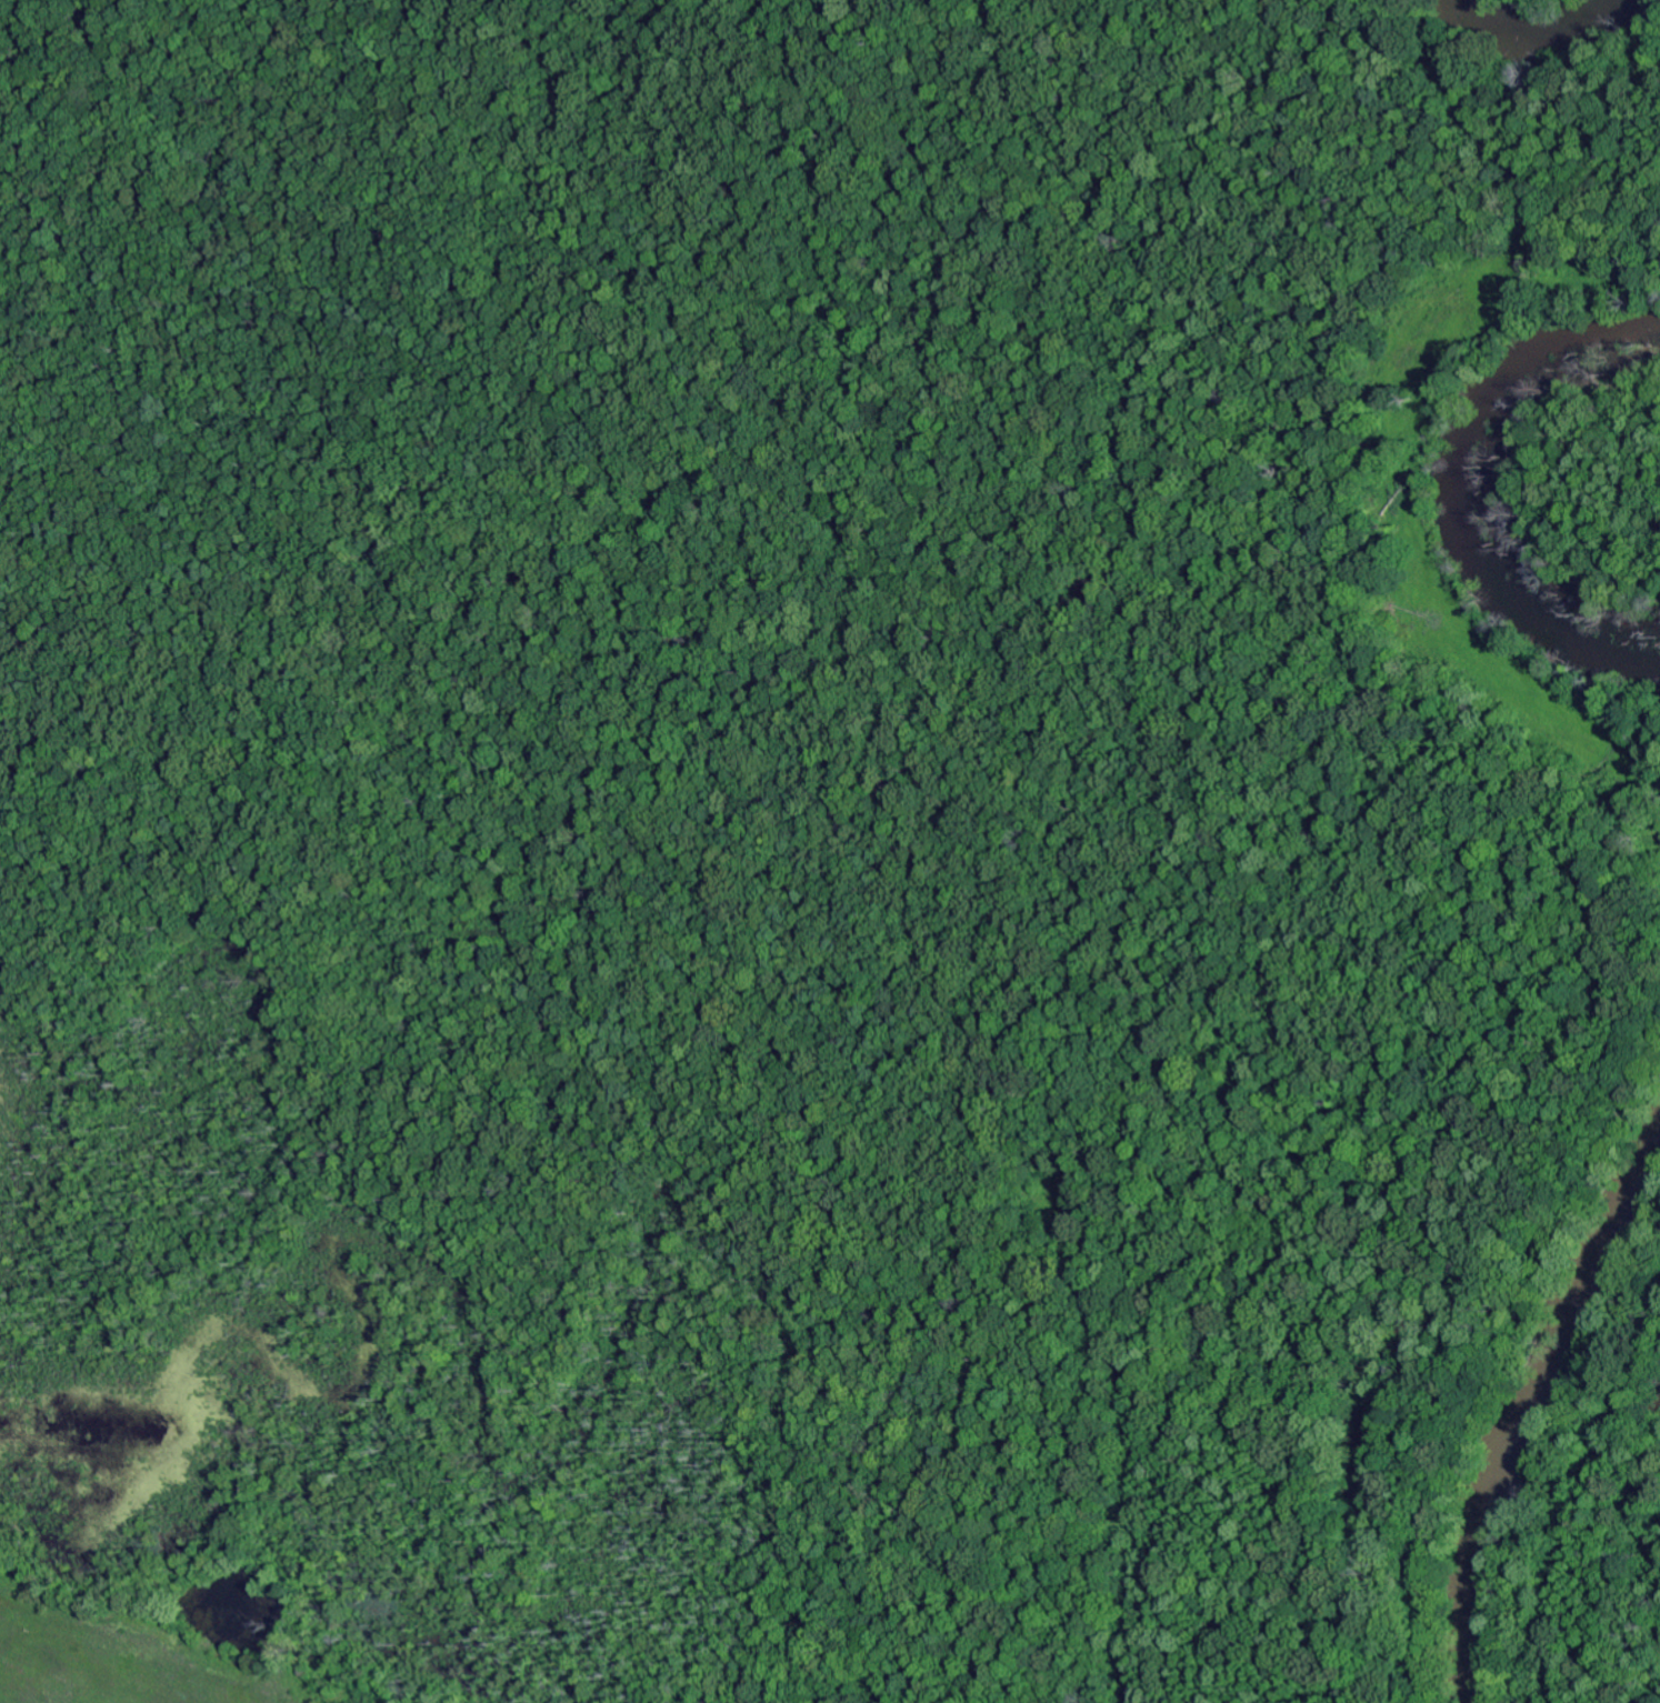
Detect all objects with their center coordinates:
river: (1516, 1400)

